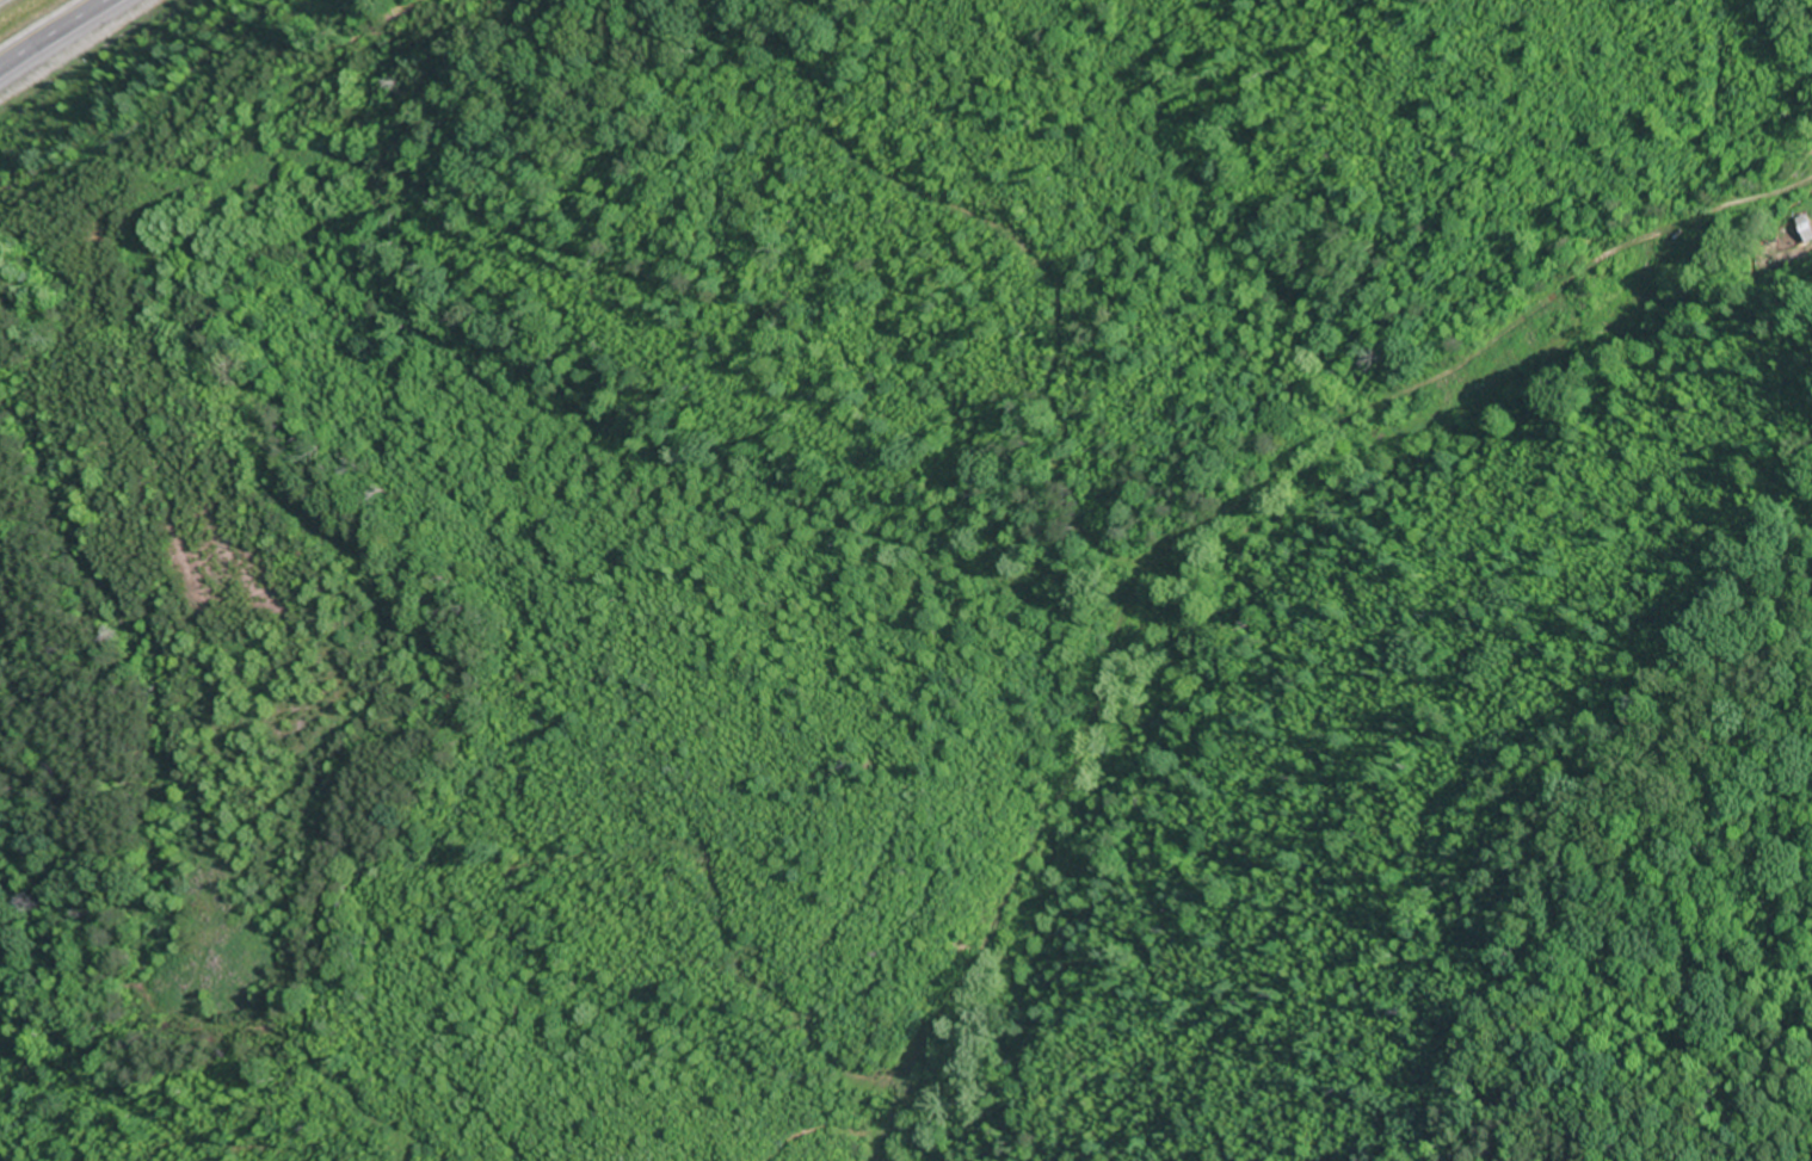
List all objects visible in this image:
road: (55, 35)

